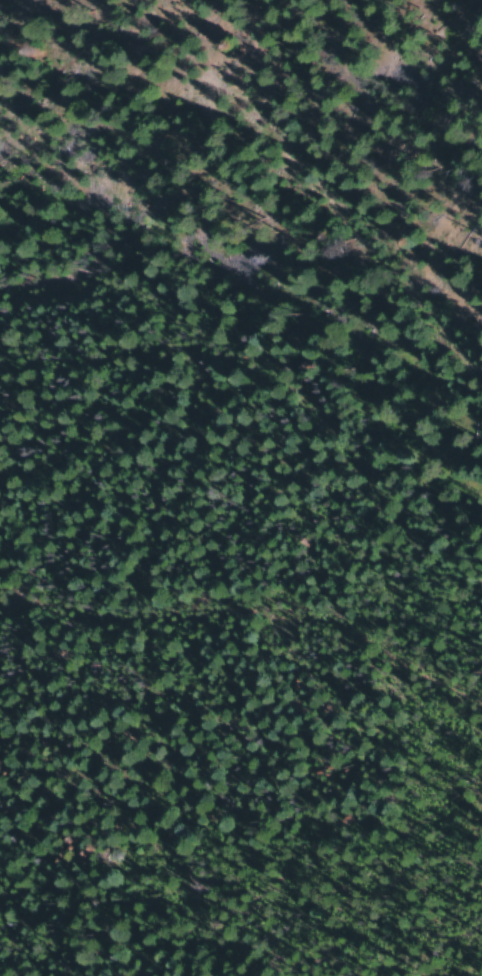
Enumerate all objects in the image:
road: (283, 247)
road: (244, 640)

